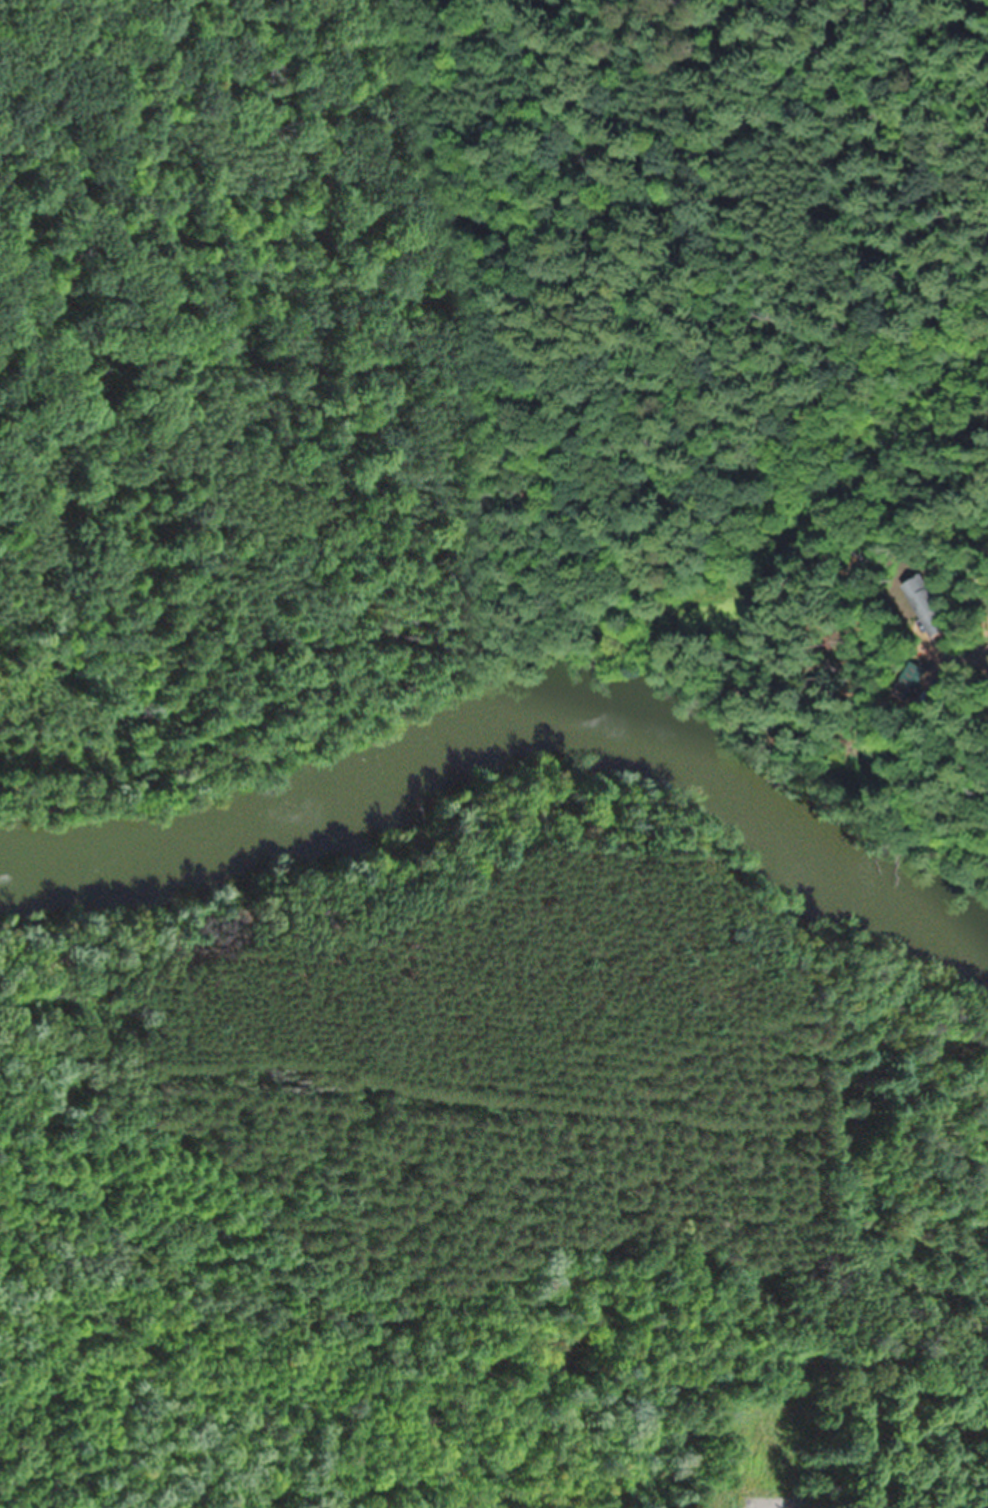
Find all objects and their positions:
building: (942, 605)
river: (514, 731)

